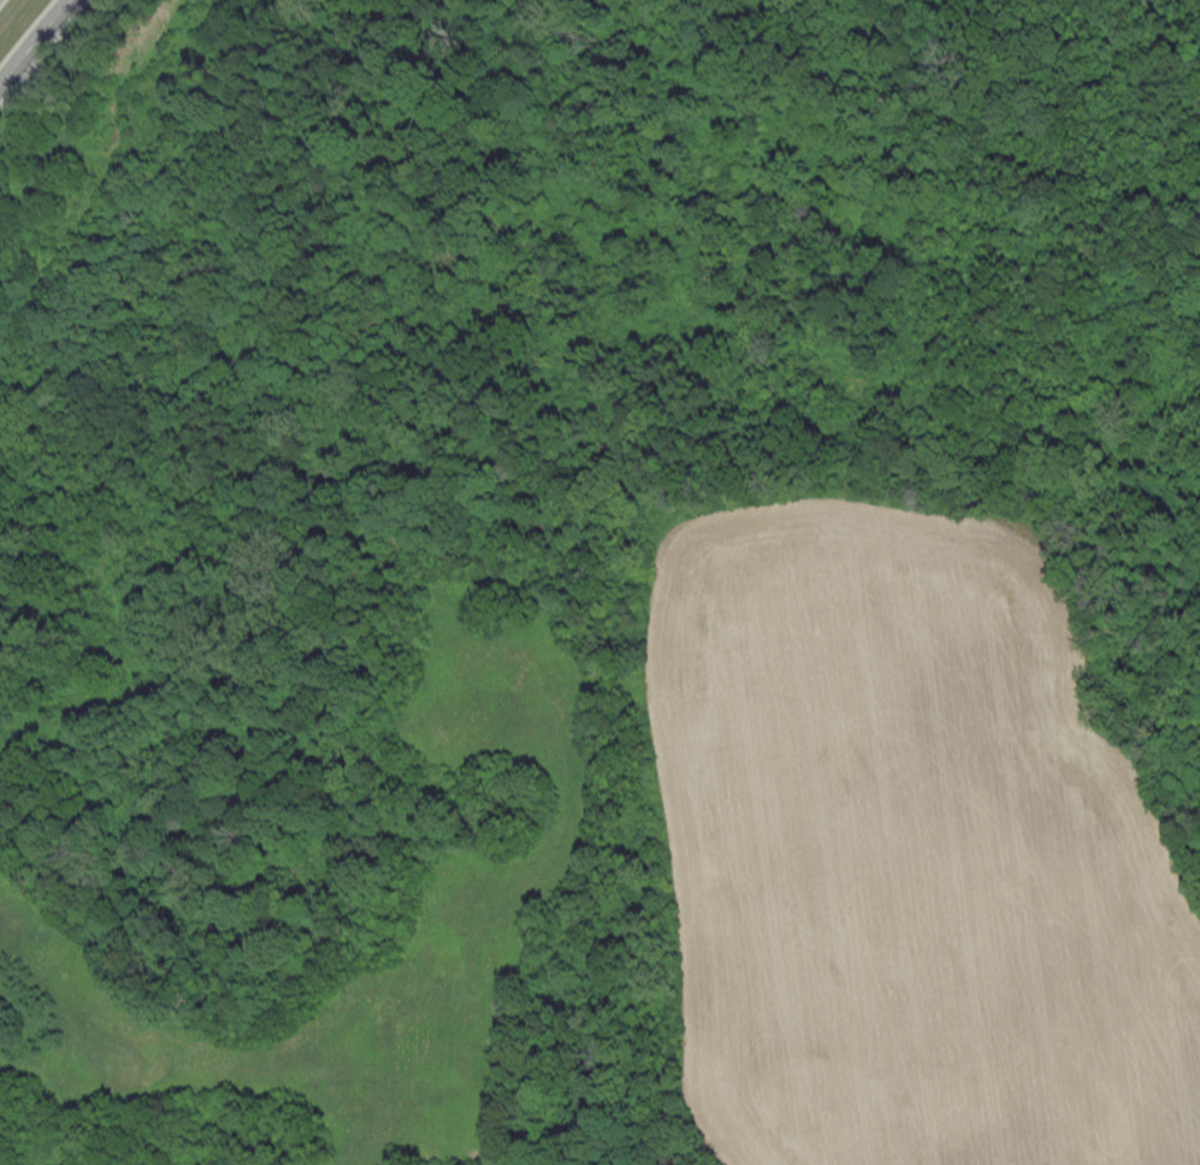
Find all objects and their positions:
road: (32, 40)

